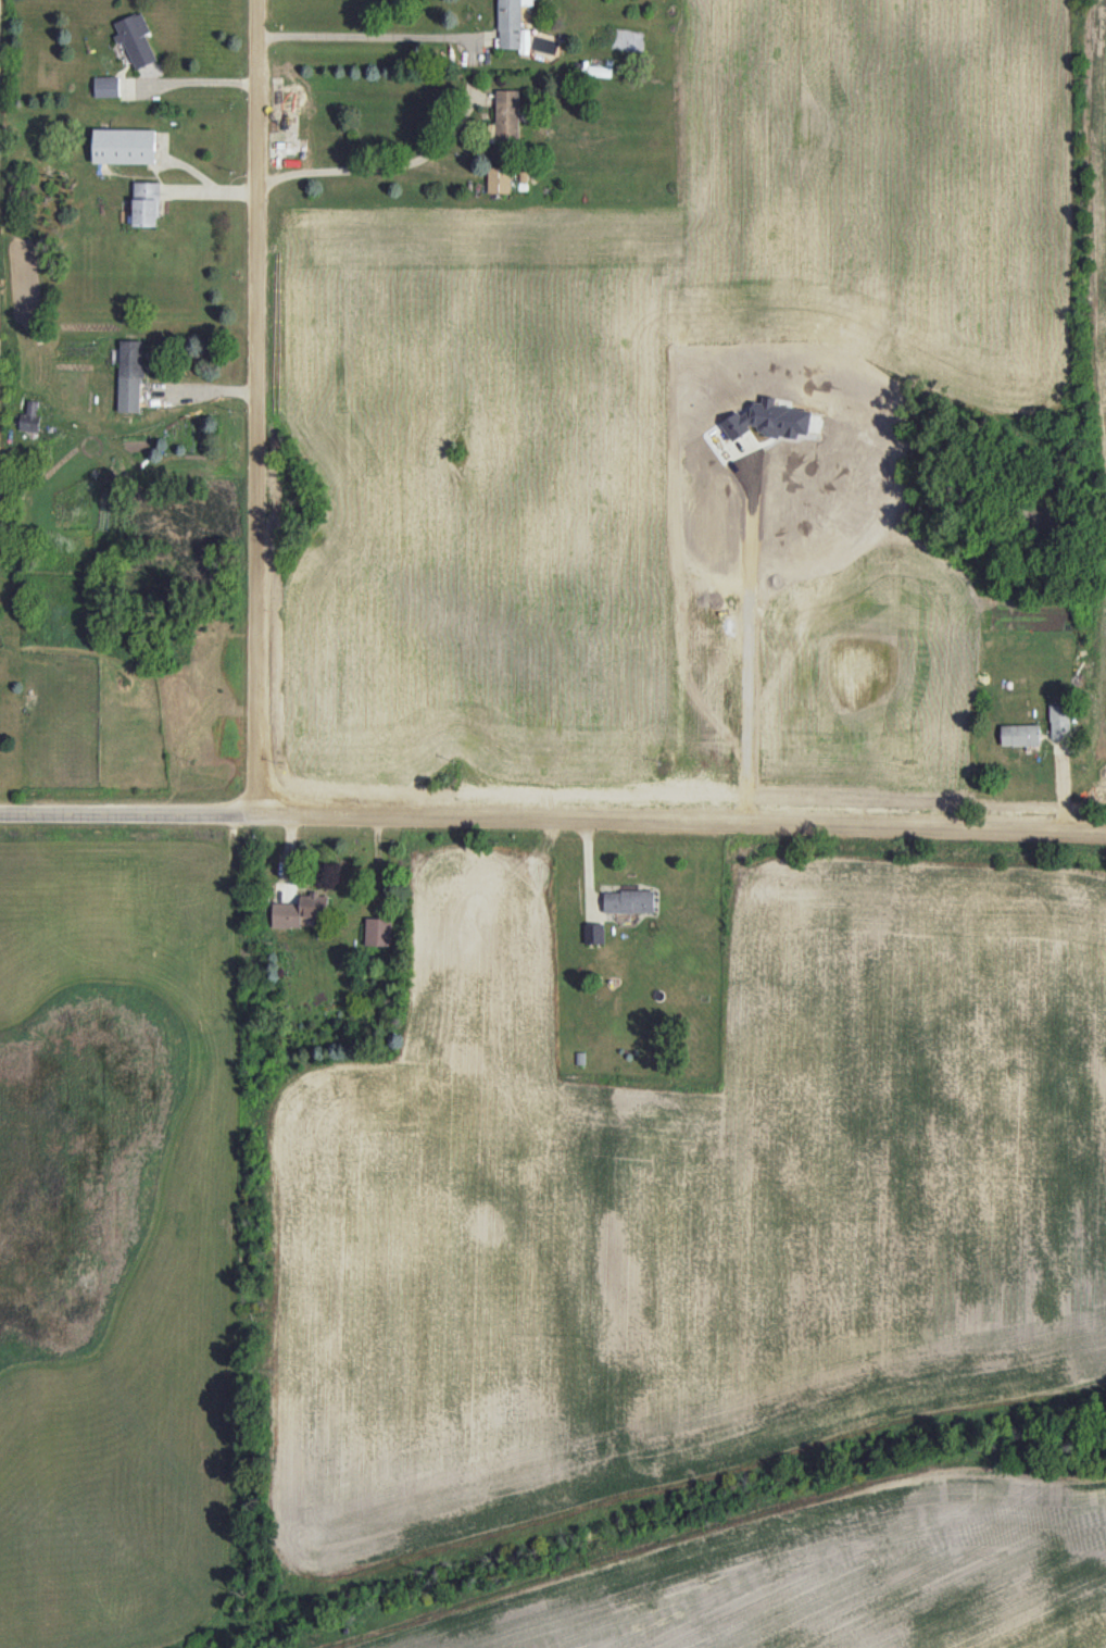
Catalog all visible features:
building: (510, 20)
road: (373, 36)
building: (136, 39)
building: (599, 71)
road: (198, 82)
building: (106, 86)
building: (507, 115)
building: (124, 146)
road: (368, 167)
building: (499, 179)
building: (147, 203)
building: (130, 375)
road: (255, 409)
crop: (682, 413)
building: (30, 416)
road: (742, 648)
building: (1060, 720)
building: (1020, 735)
road: (127, 816)
road: (680, 828)
building: (629, 901)
building: (299, 910)
building: (378, 932)
building: (594, 933)

